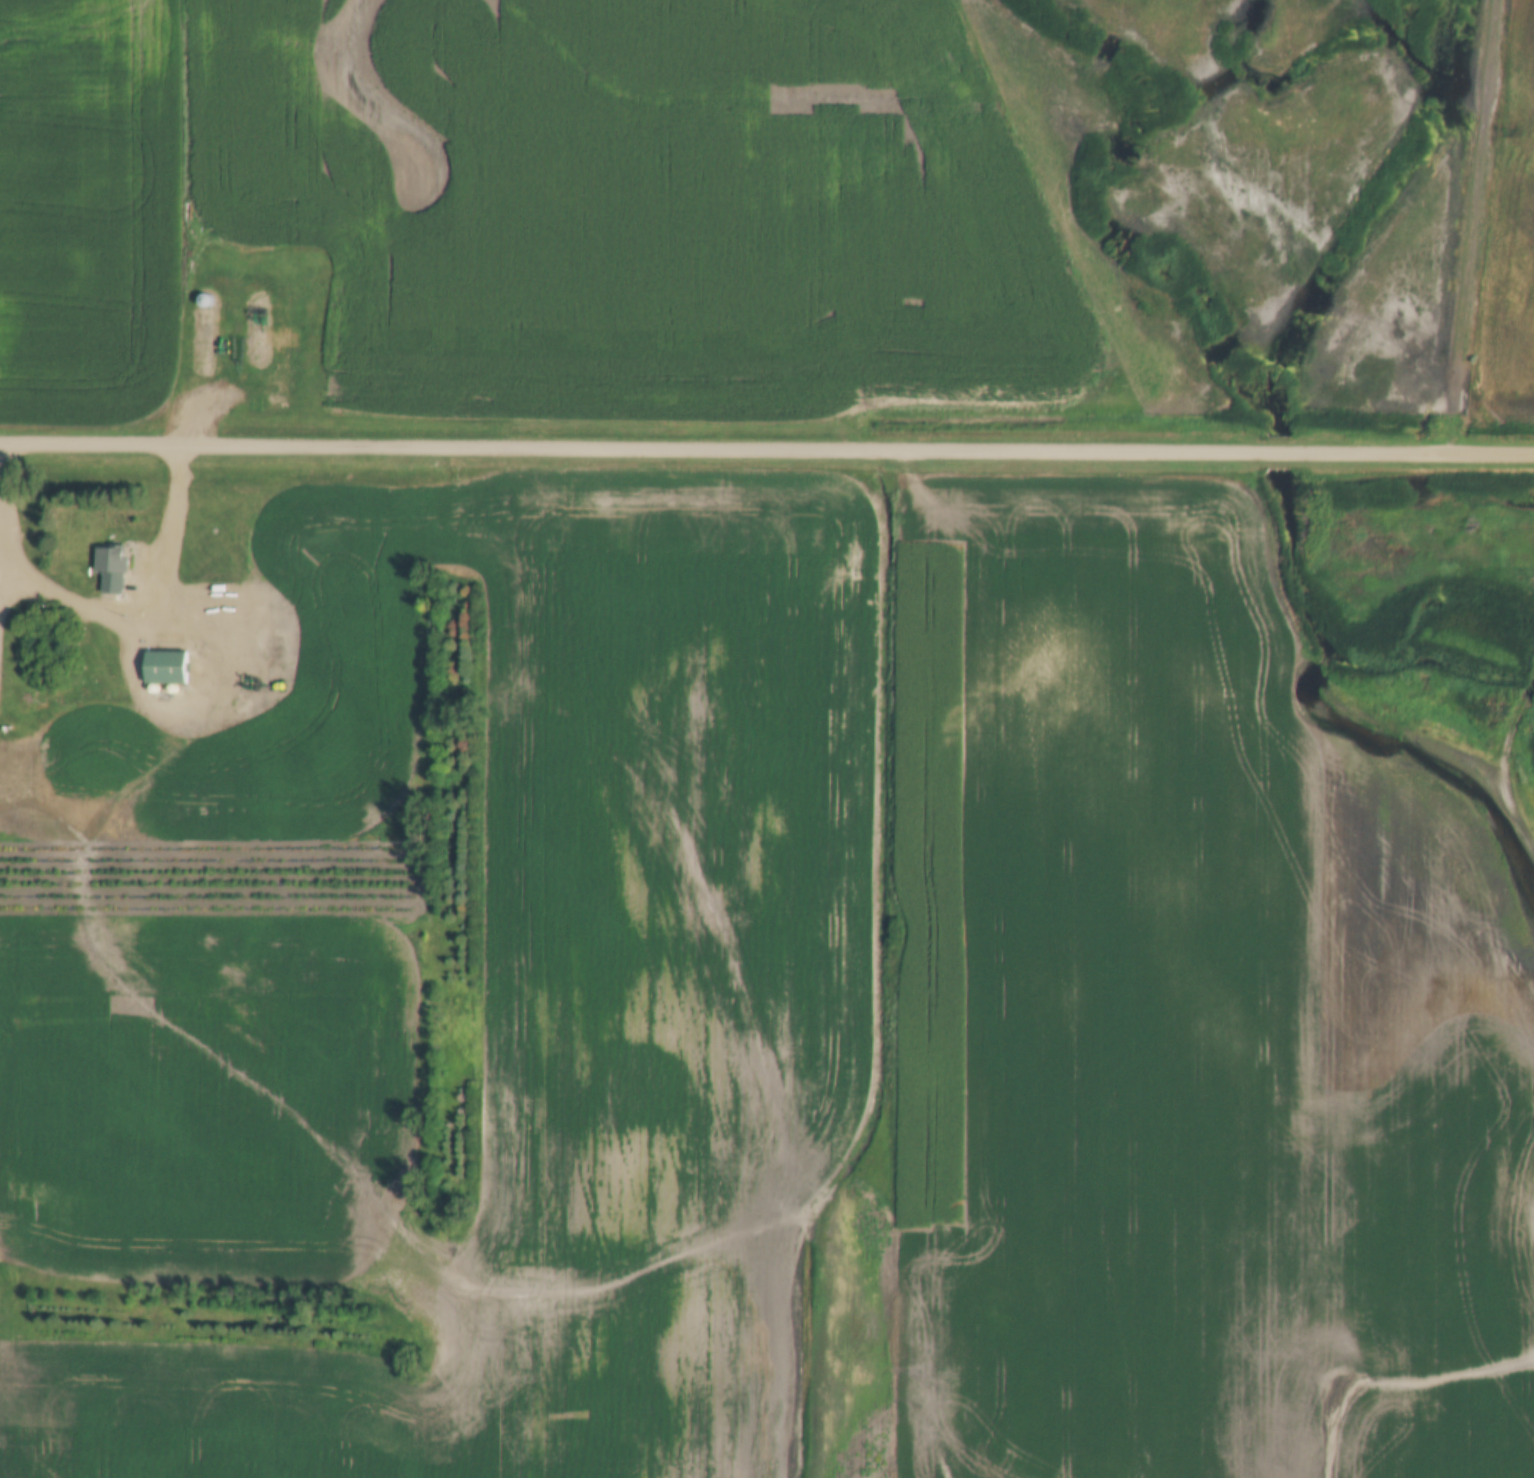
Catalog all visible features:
road: (736, 101)
road: (384, 114)
building: (259, 304)
building: (260, 321)
building: (258, 338)
road: (885, 397)
road: (194, 407)
road: (766, 452)
road: (2, 465)
building: (115, 567)
building: (224, 604)
road: (142, 606)
building: (170, 665)
road: (389, 679)
road: (1508, 772)
road: (884, 1052)

